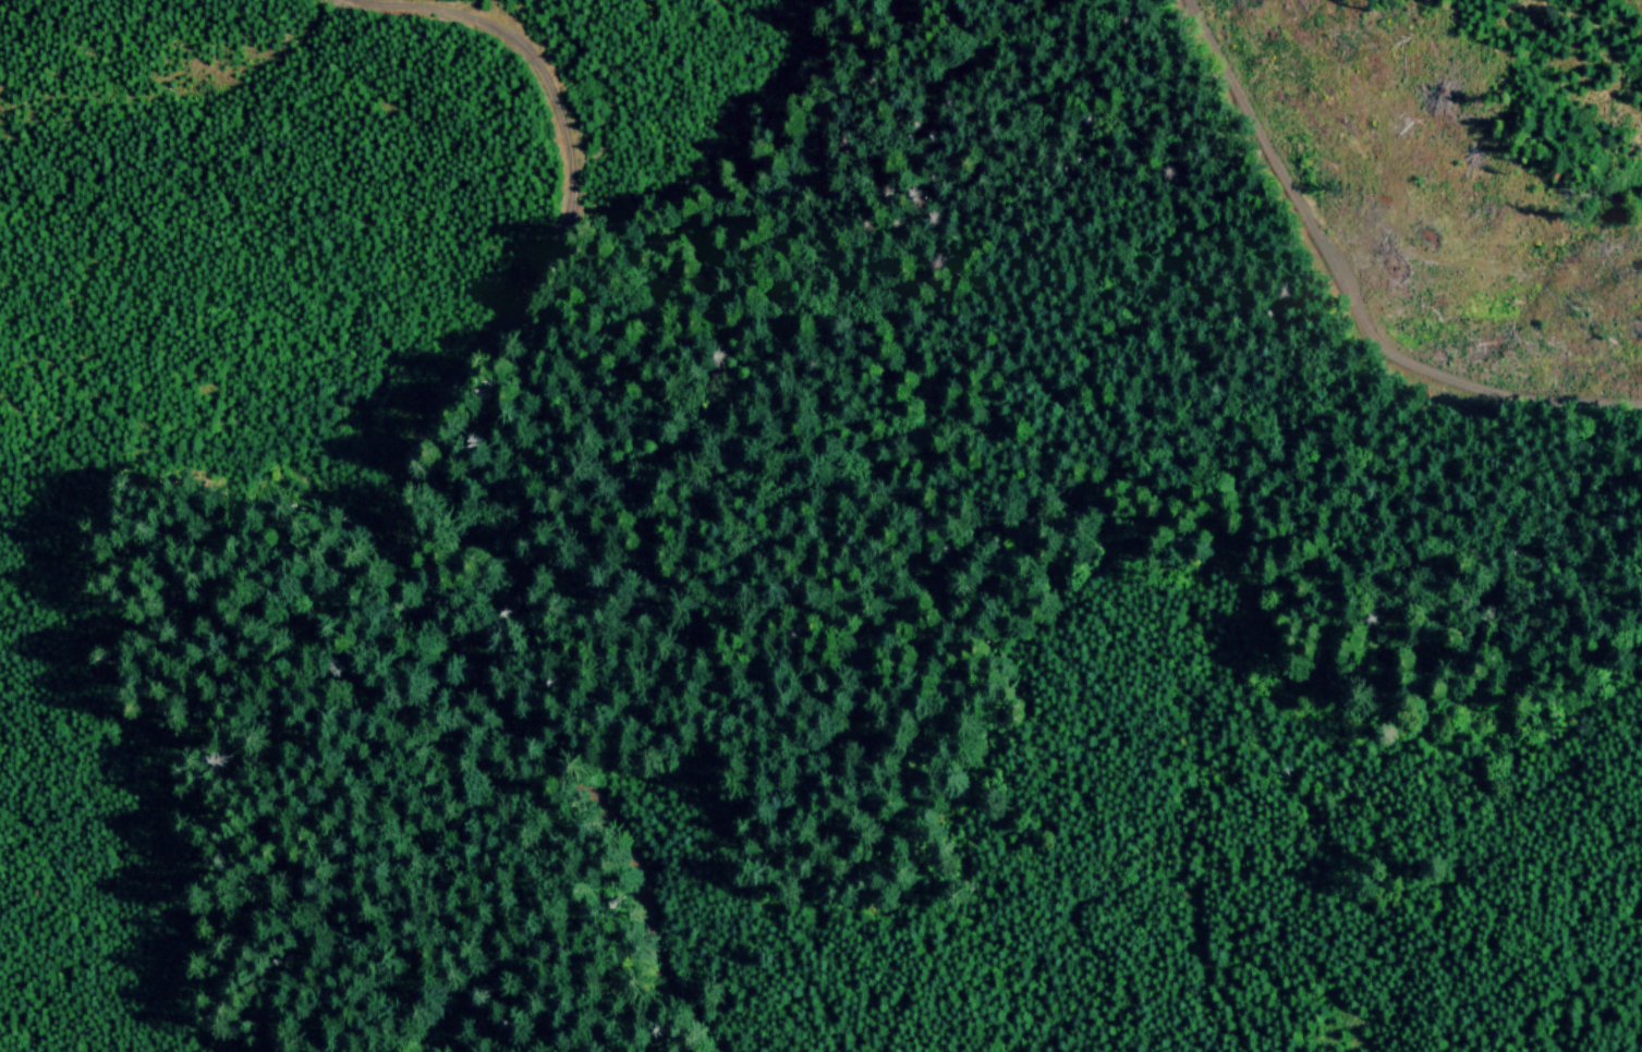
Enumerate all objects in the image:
road: (1354, 289)
road: (431, 538)

